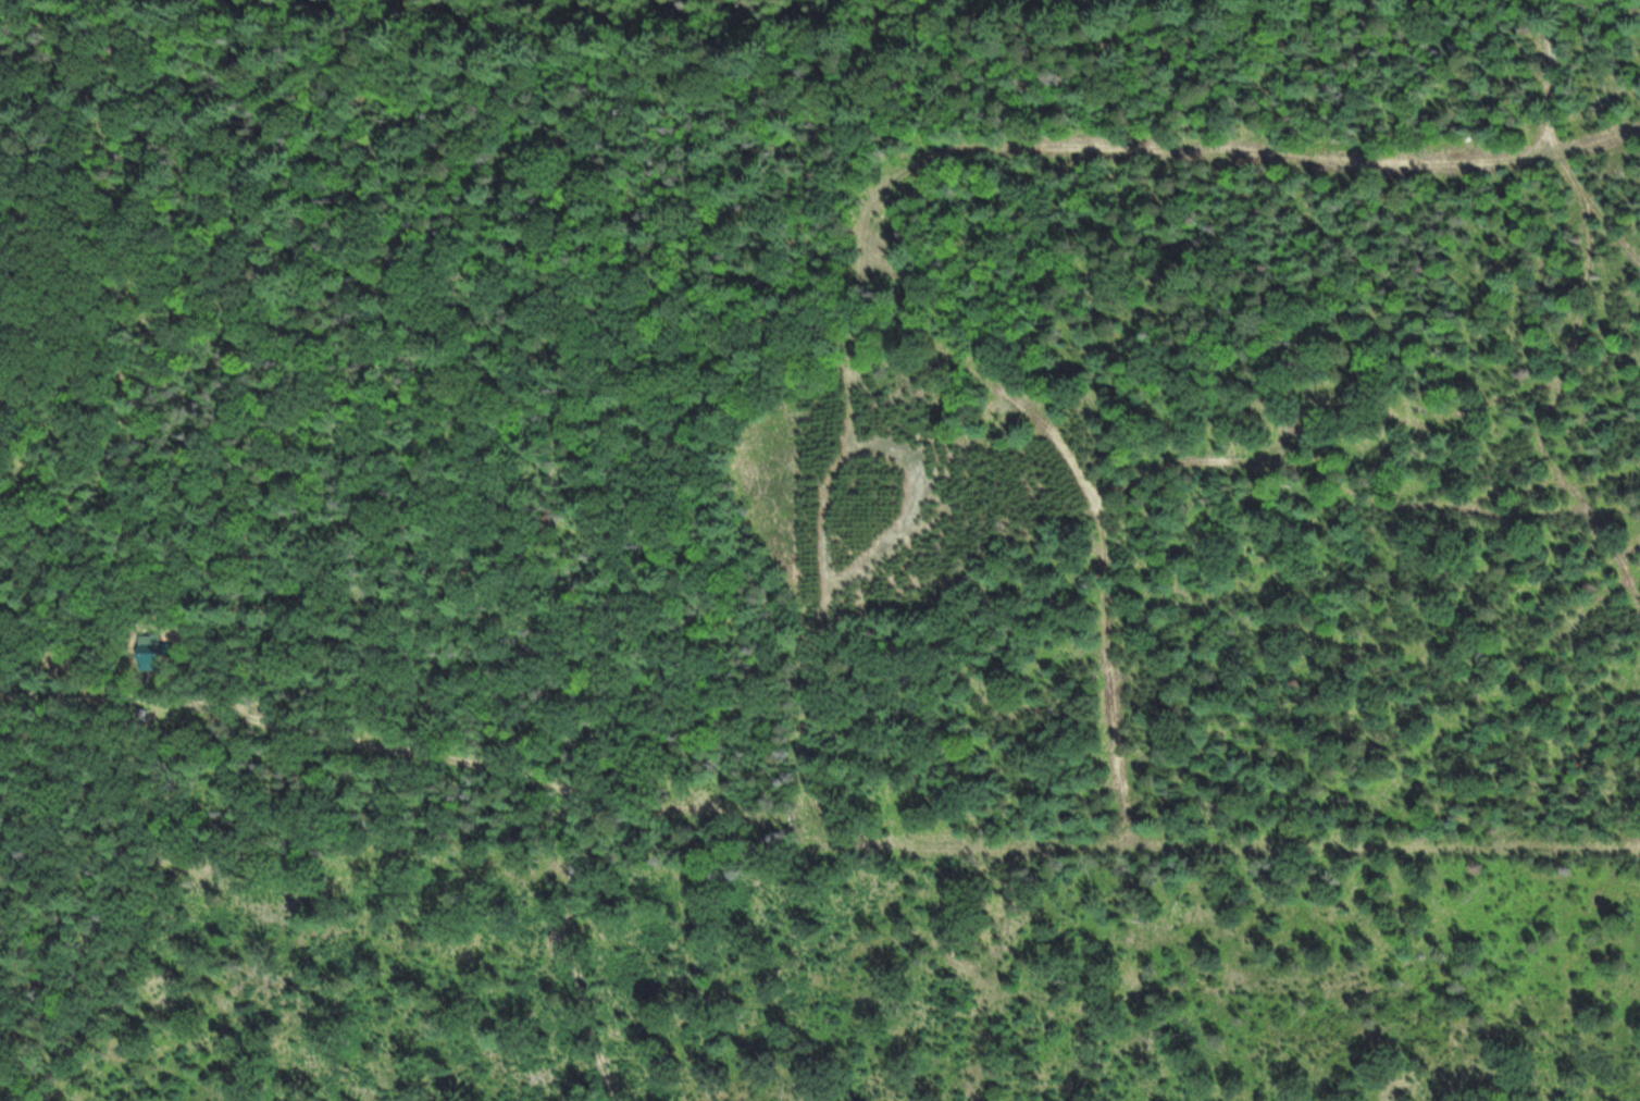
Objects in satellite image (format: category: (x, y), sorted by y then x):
road: (1551, 75)
building: (156, 652)
building: (137, 719)
road: (895, 848)

